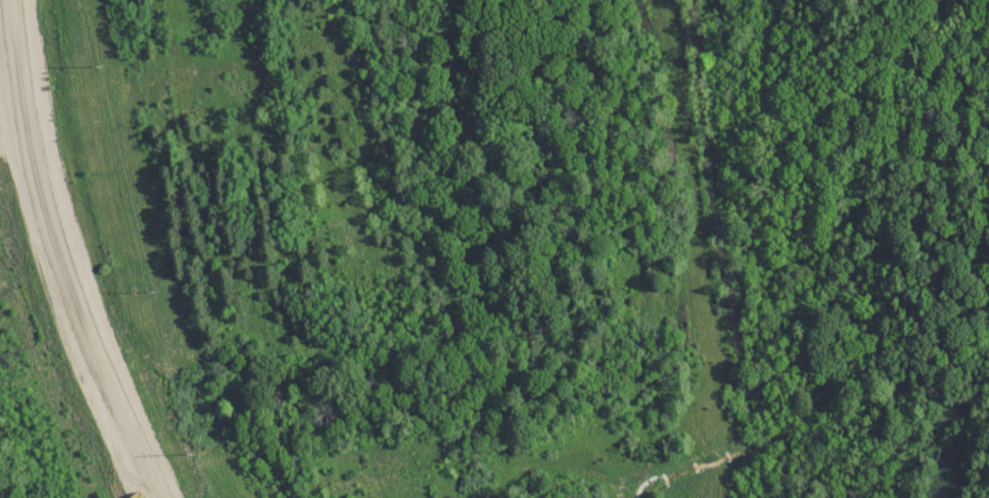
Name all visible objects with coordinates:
road: (81, 251)

